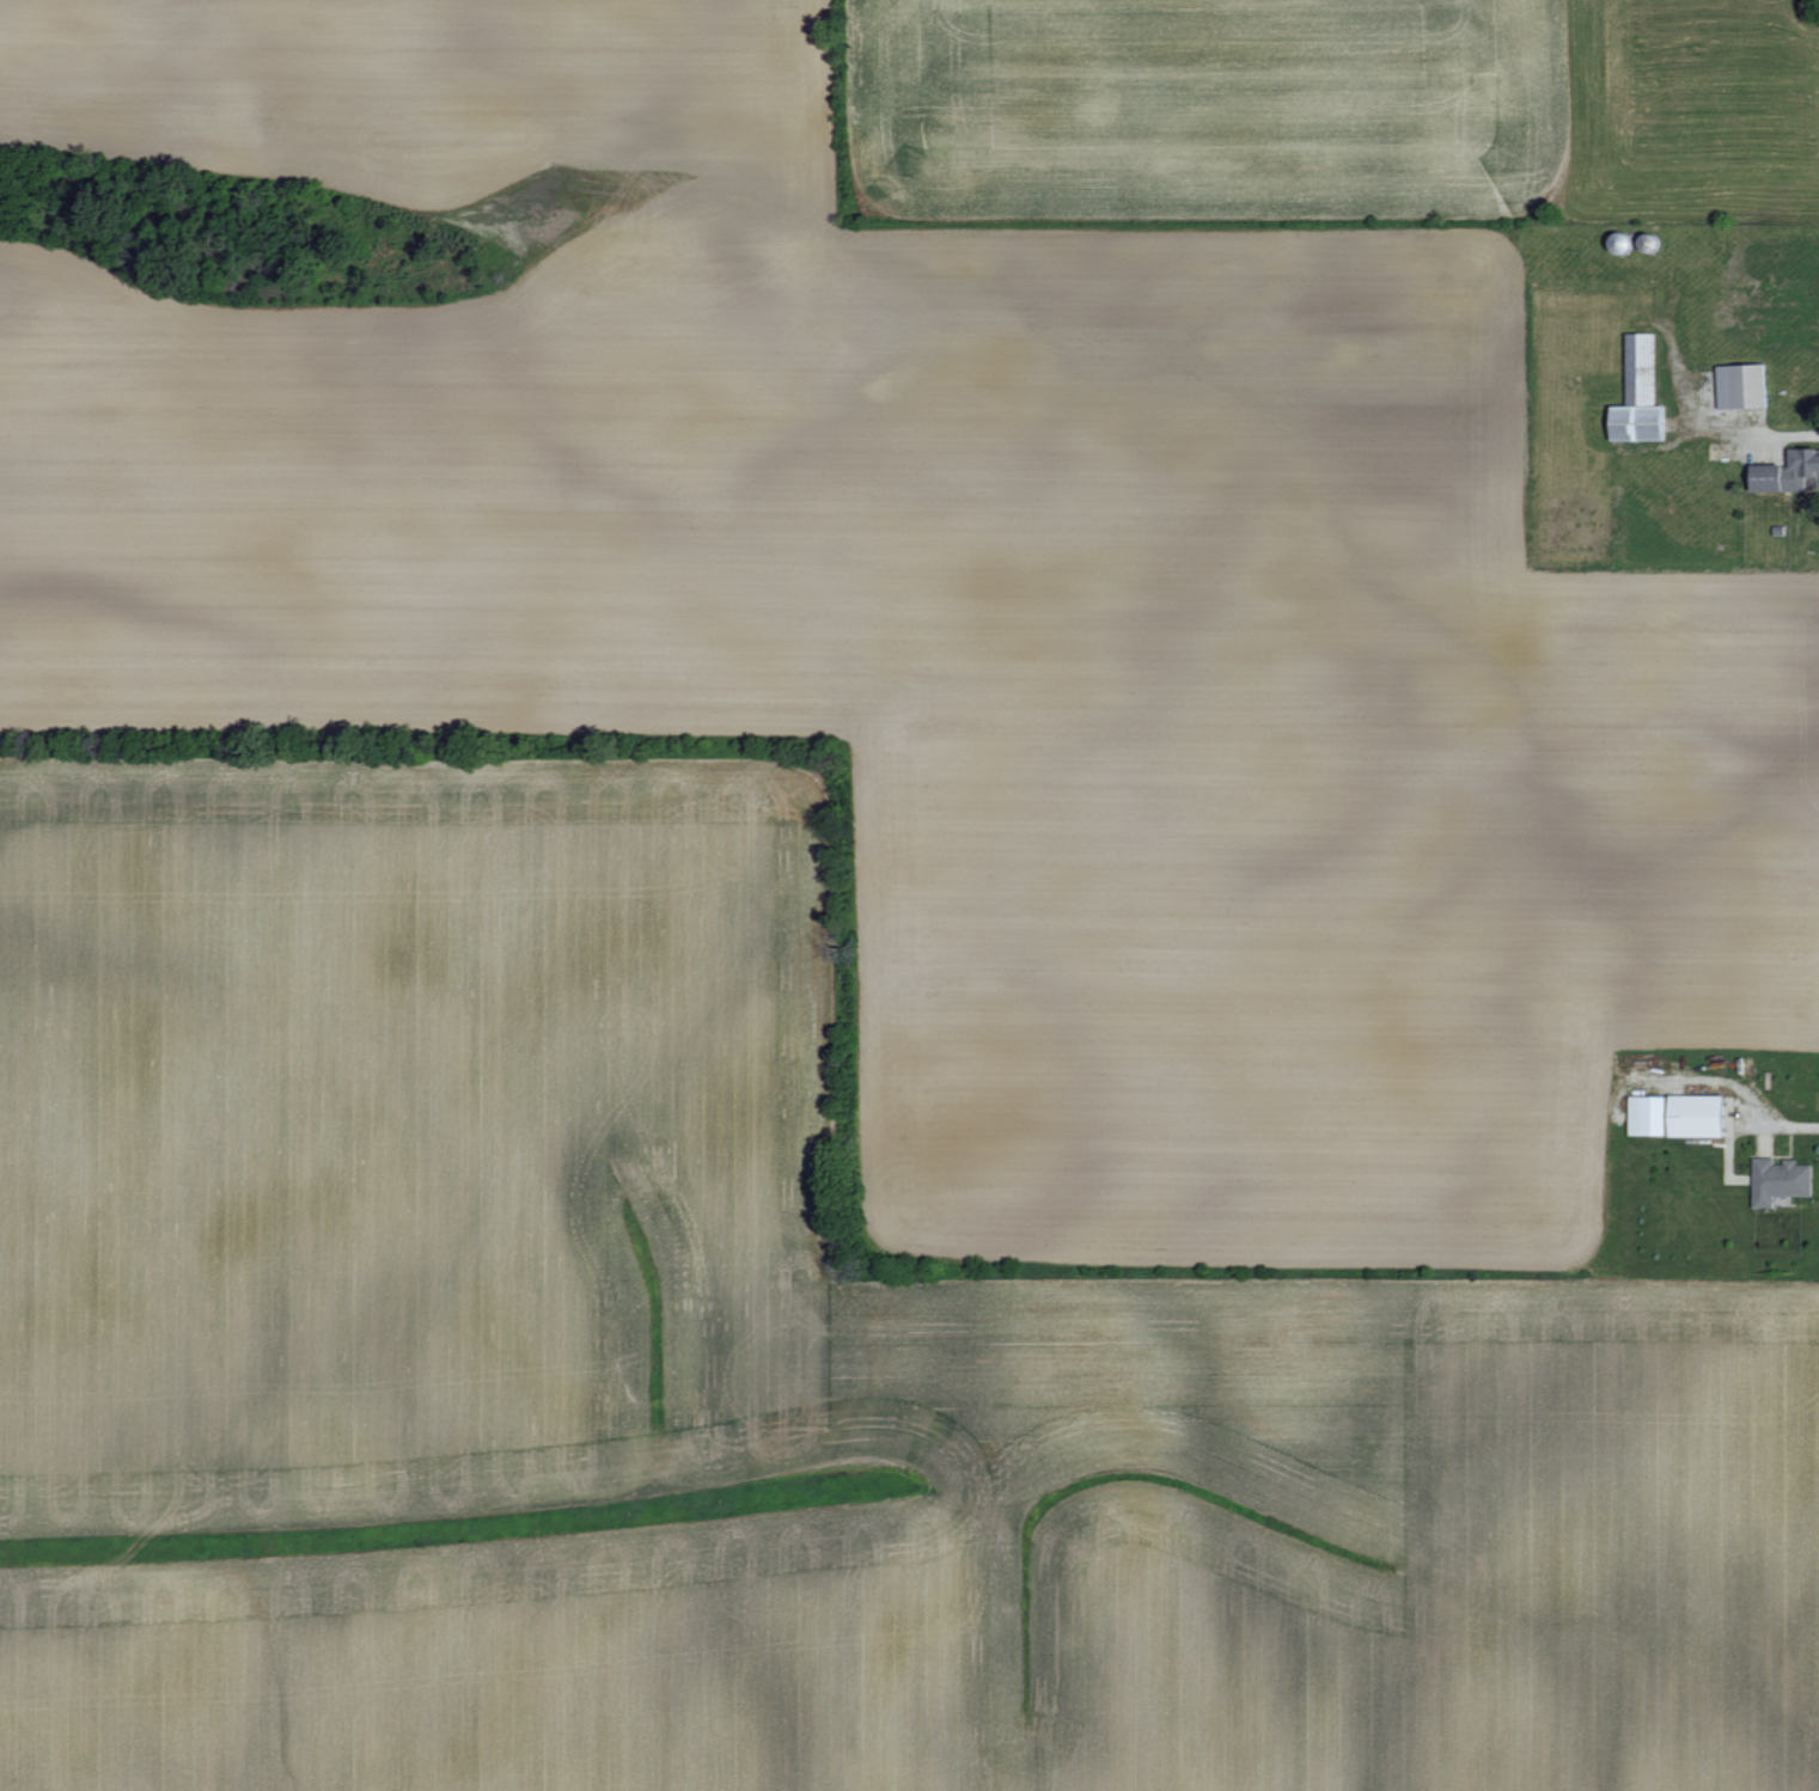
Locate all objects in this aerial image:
building: (1741, 385)
building: (1638, 393)
road: (1771, 433)
building: (1787, 471)
road: (1732, 1096)
building: (1647, 1113)
building: (1697, 1114)
building: (1780, 1179)

